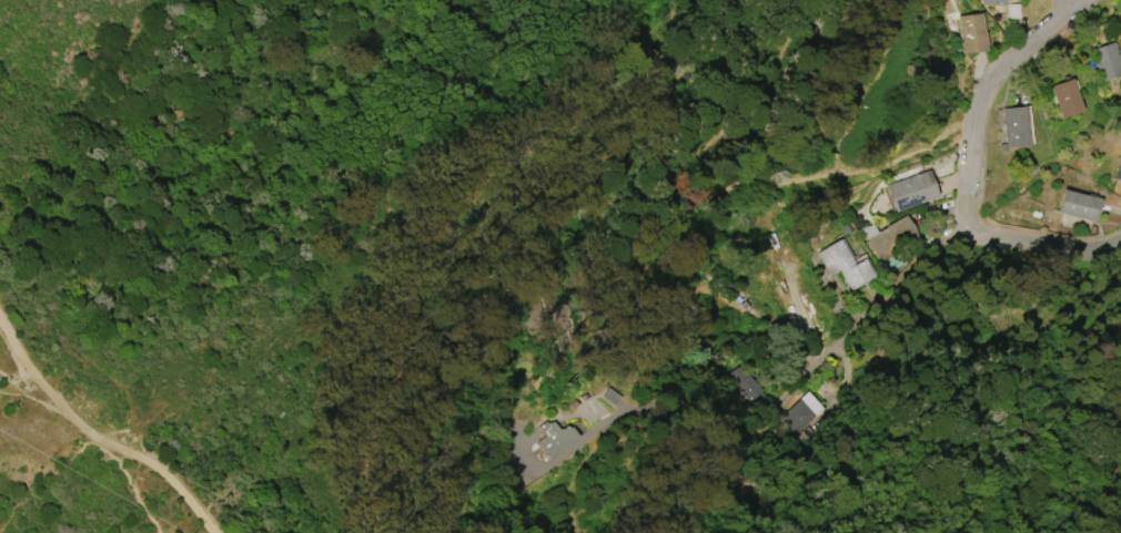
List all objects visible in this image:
building: (992, 0)
building: (970, 33)
building: (1107, 61)
road: (978, 96)
building: (1066, 99)
building: (1014, 127)
building: (1118, 168)
building: (911, 191)
building: (1079, 205)
road: (476, 208)
building: (890, 237)
road: (655, 243)
road: (1044, 247)
building: (845, 265)
road: (882, 296)
road: (30, 372)
building: (802, 413)
building: (554, 438)
road: (147, 468)

